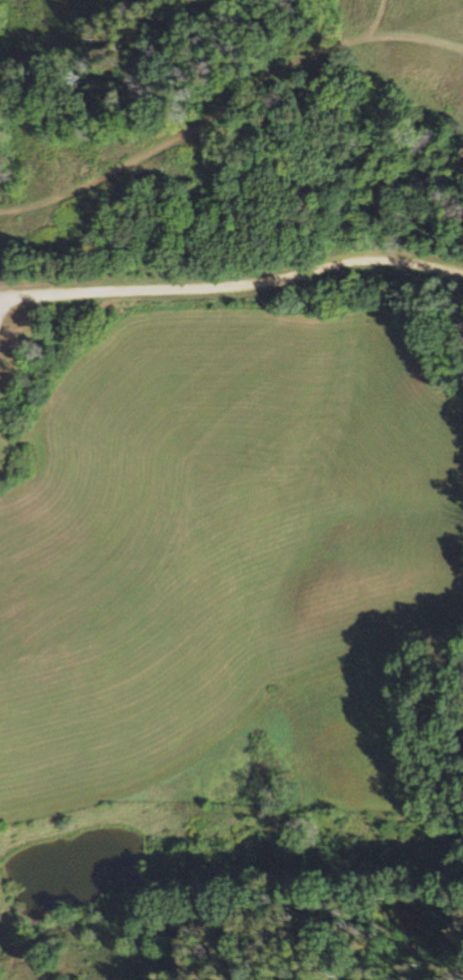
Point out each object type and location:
road: (235, 325)

